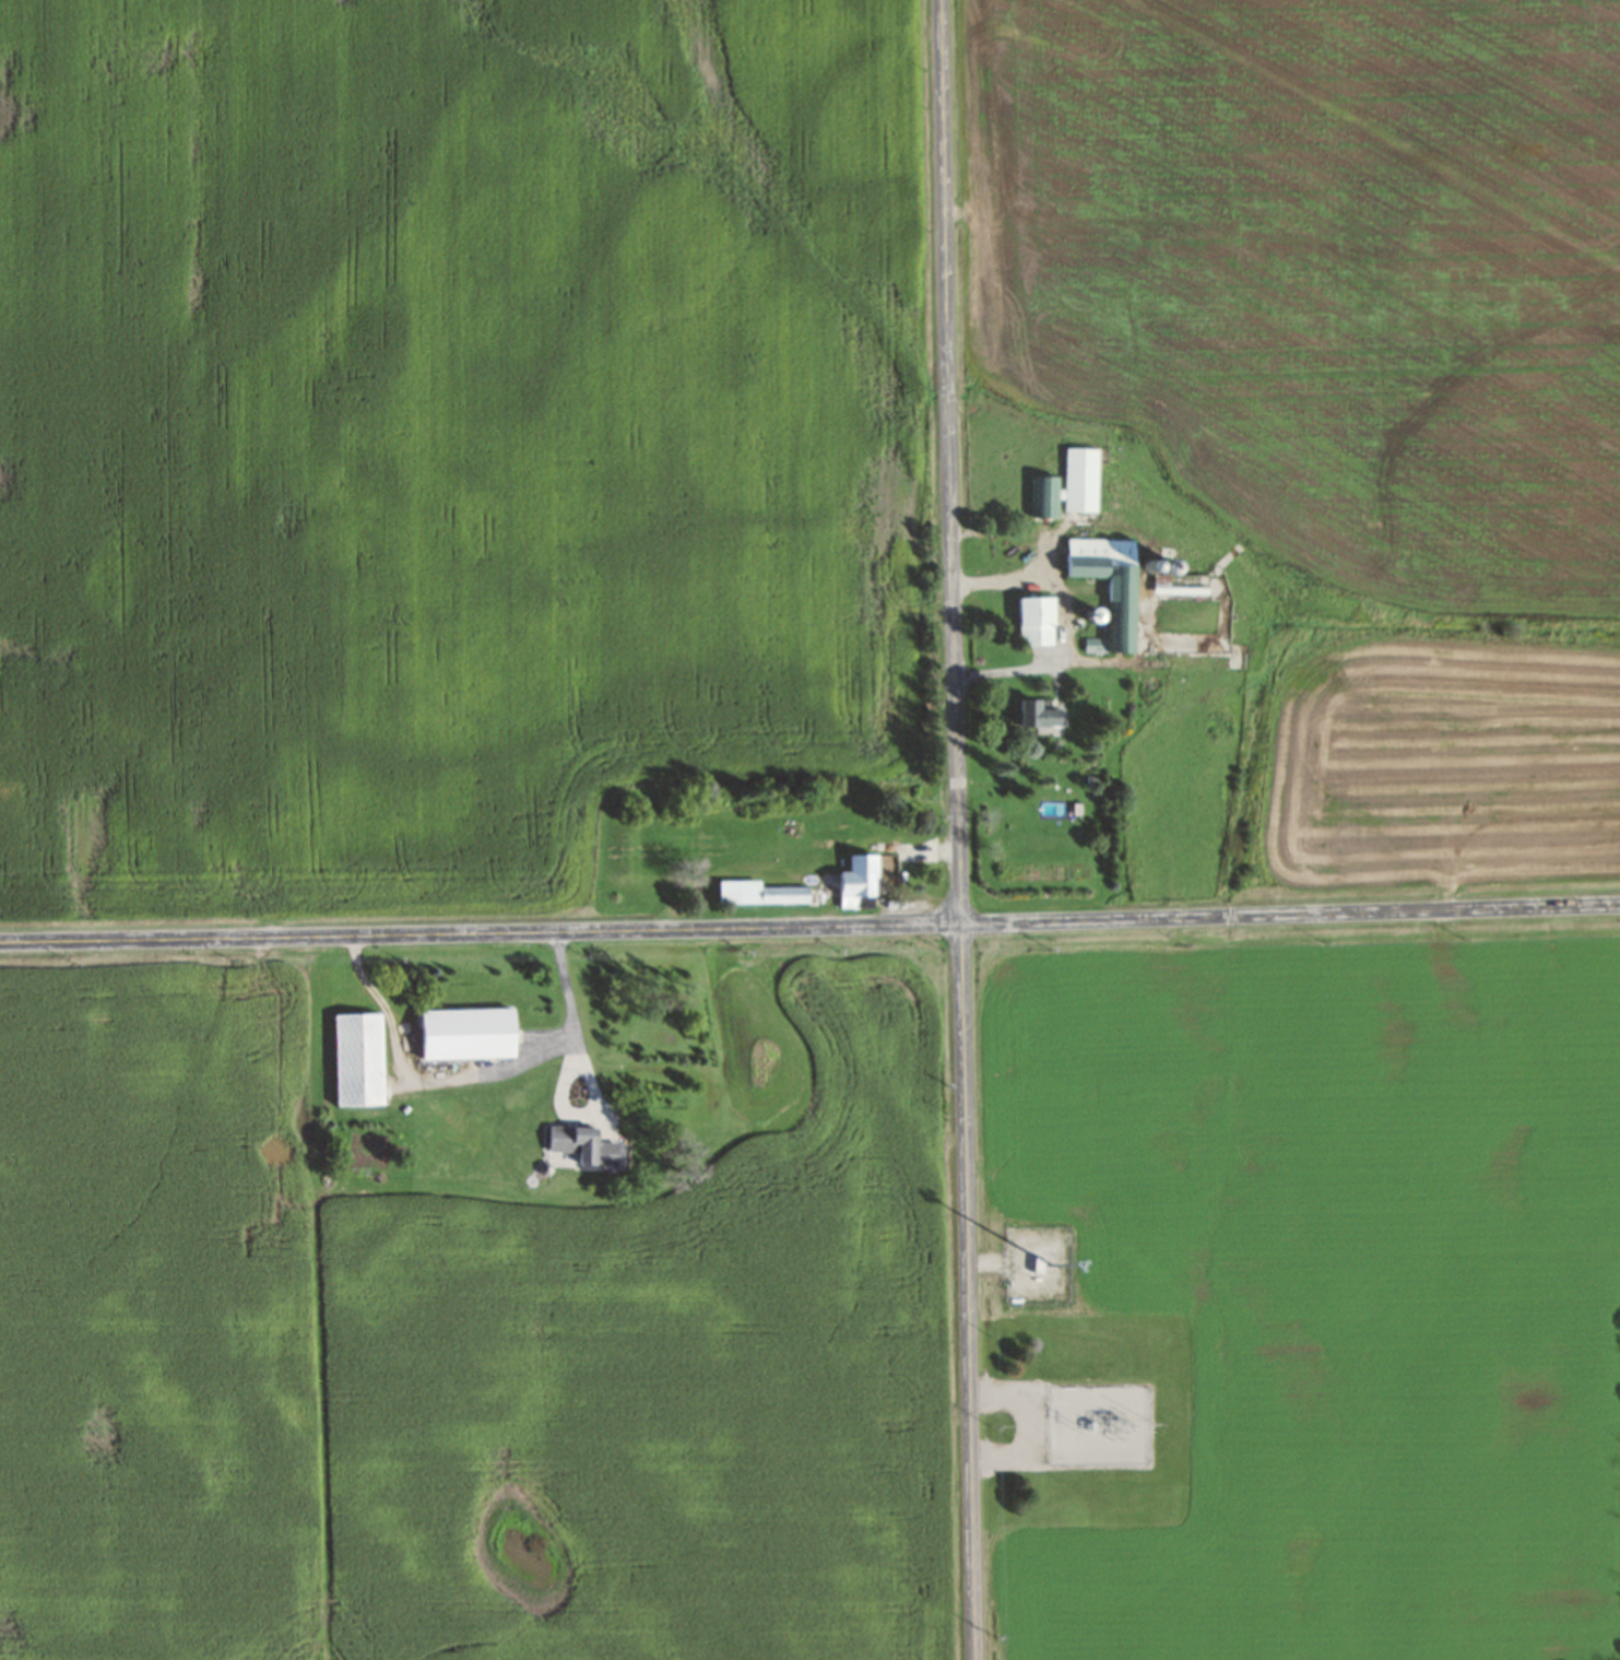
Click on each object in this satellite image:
building: (1080, 479)
building: (1045, 497)
building: (1109, 587)
building: (1036, 622)
building: (1040, 715)
road: (960, 829)
building: (808, 887)
road: (809, 926)
road: (389, 1014)
building: (466, 1034)
building: (357, 1060)
road: (569, 1067)
building: (582, 1144)
power tower: (1083, 1418)
power substation: (1109, 1421)

